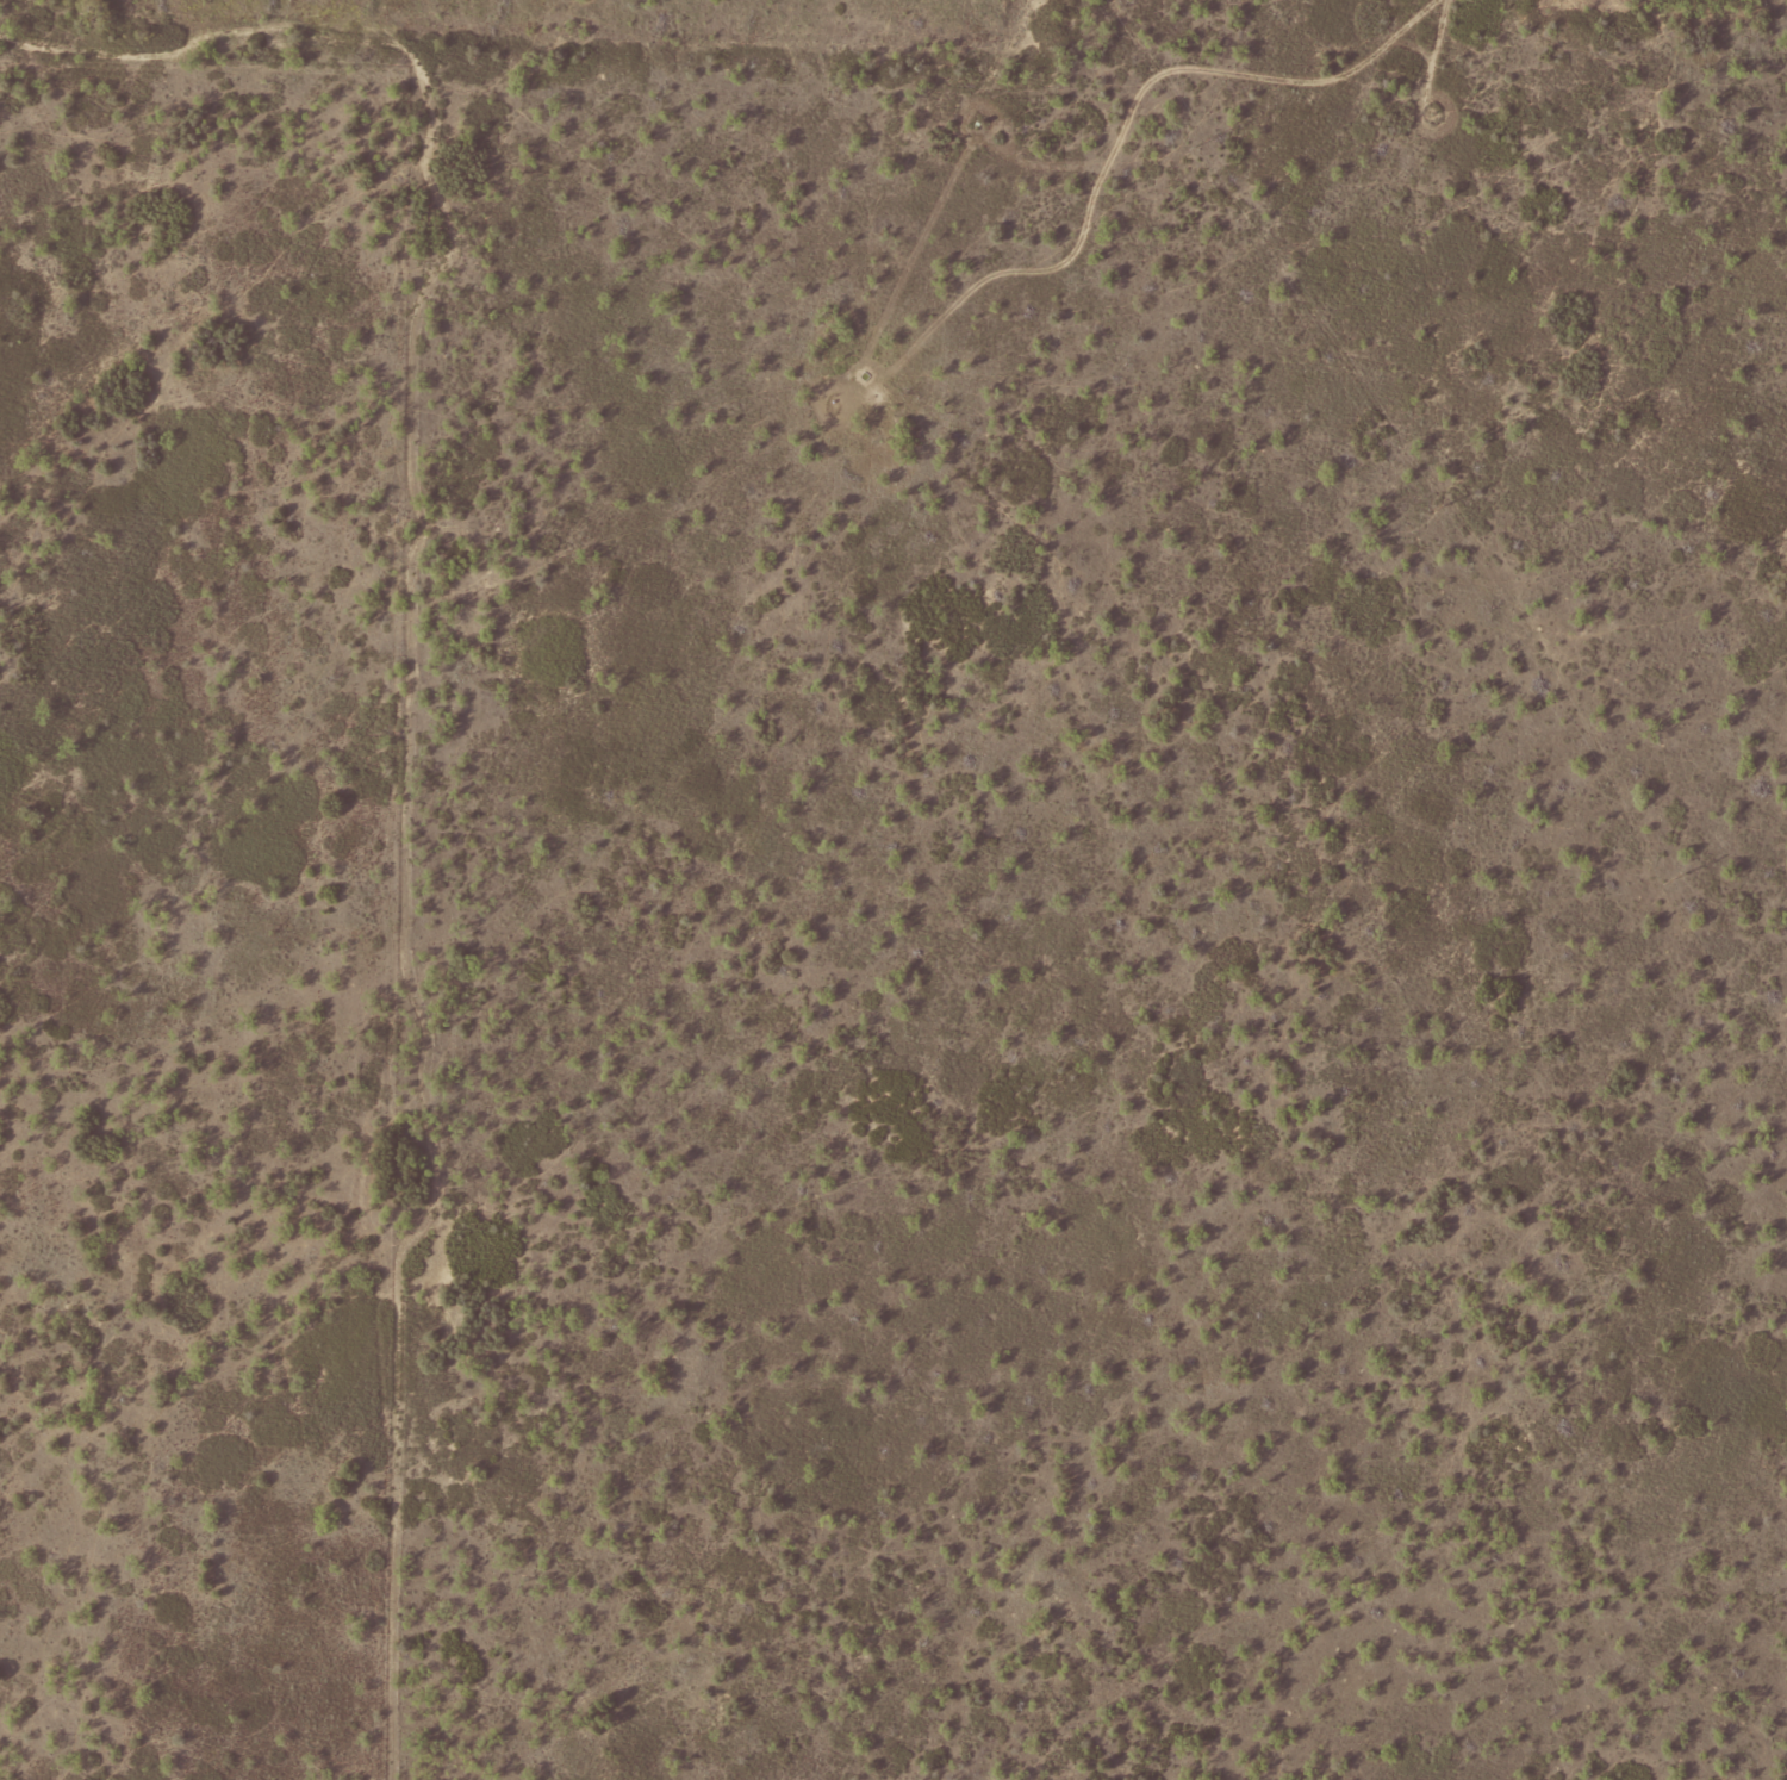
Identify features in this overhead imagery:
power tower: (1206, 143)
power tower: (1442, 510)
power tower: (1679, 878)

